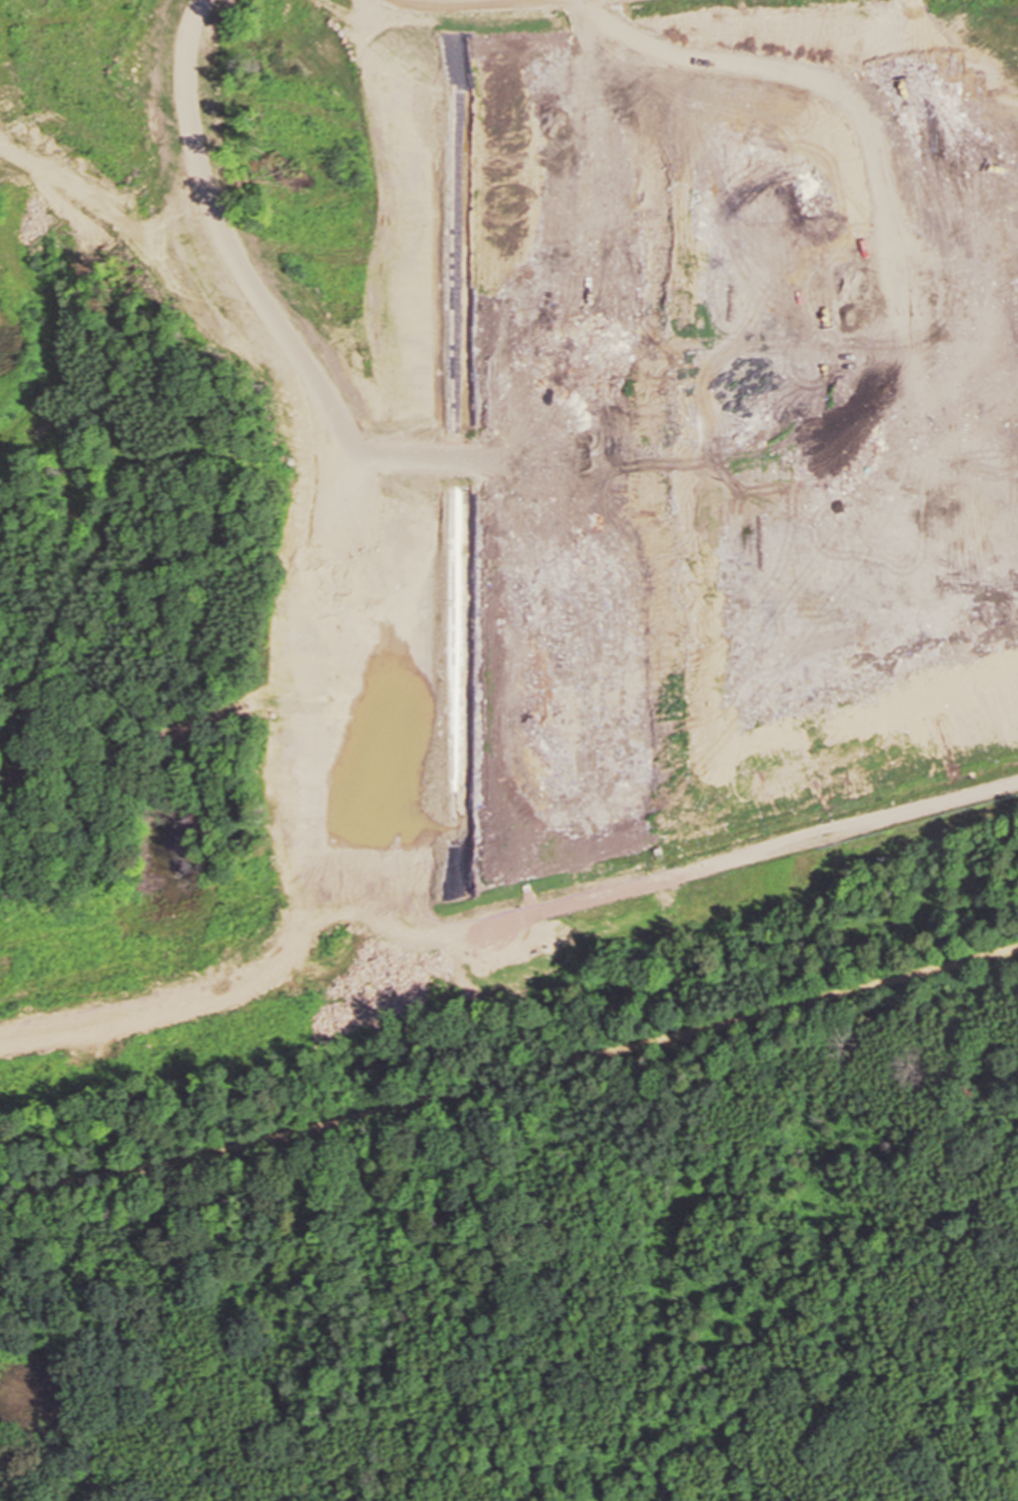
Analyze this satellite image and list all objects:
landfill: (487, 515)
road: (510, 1085)
crop: (1017, 1493)

